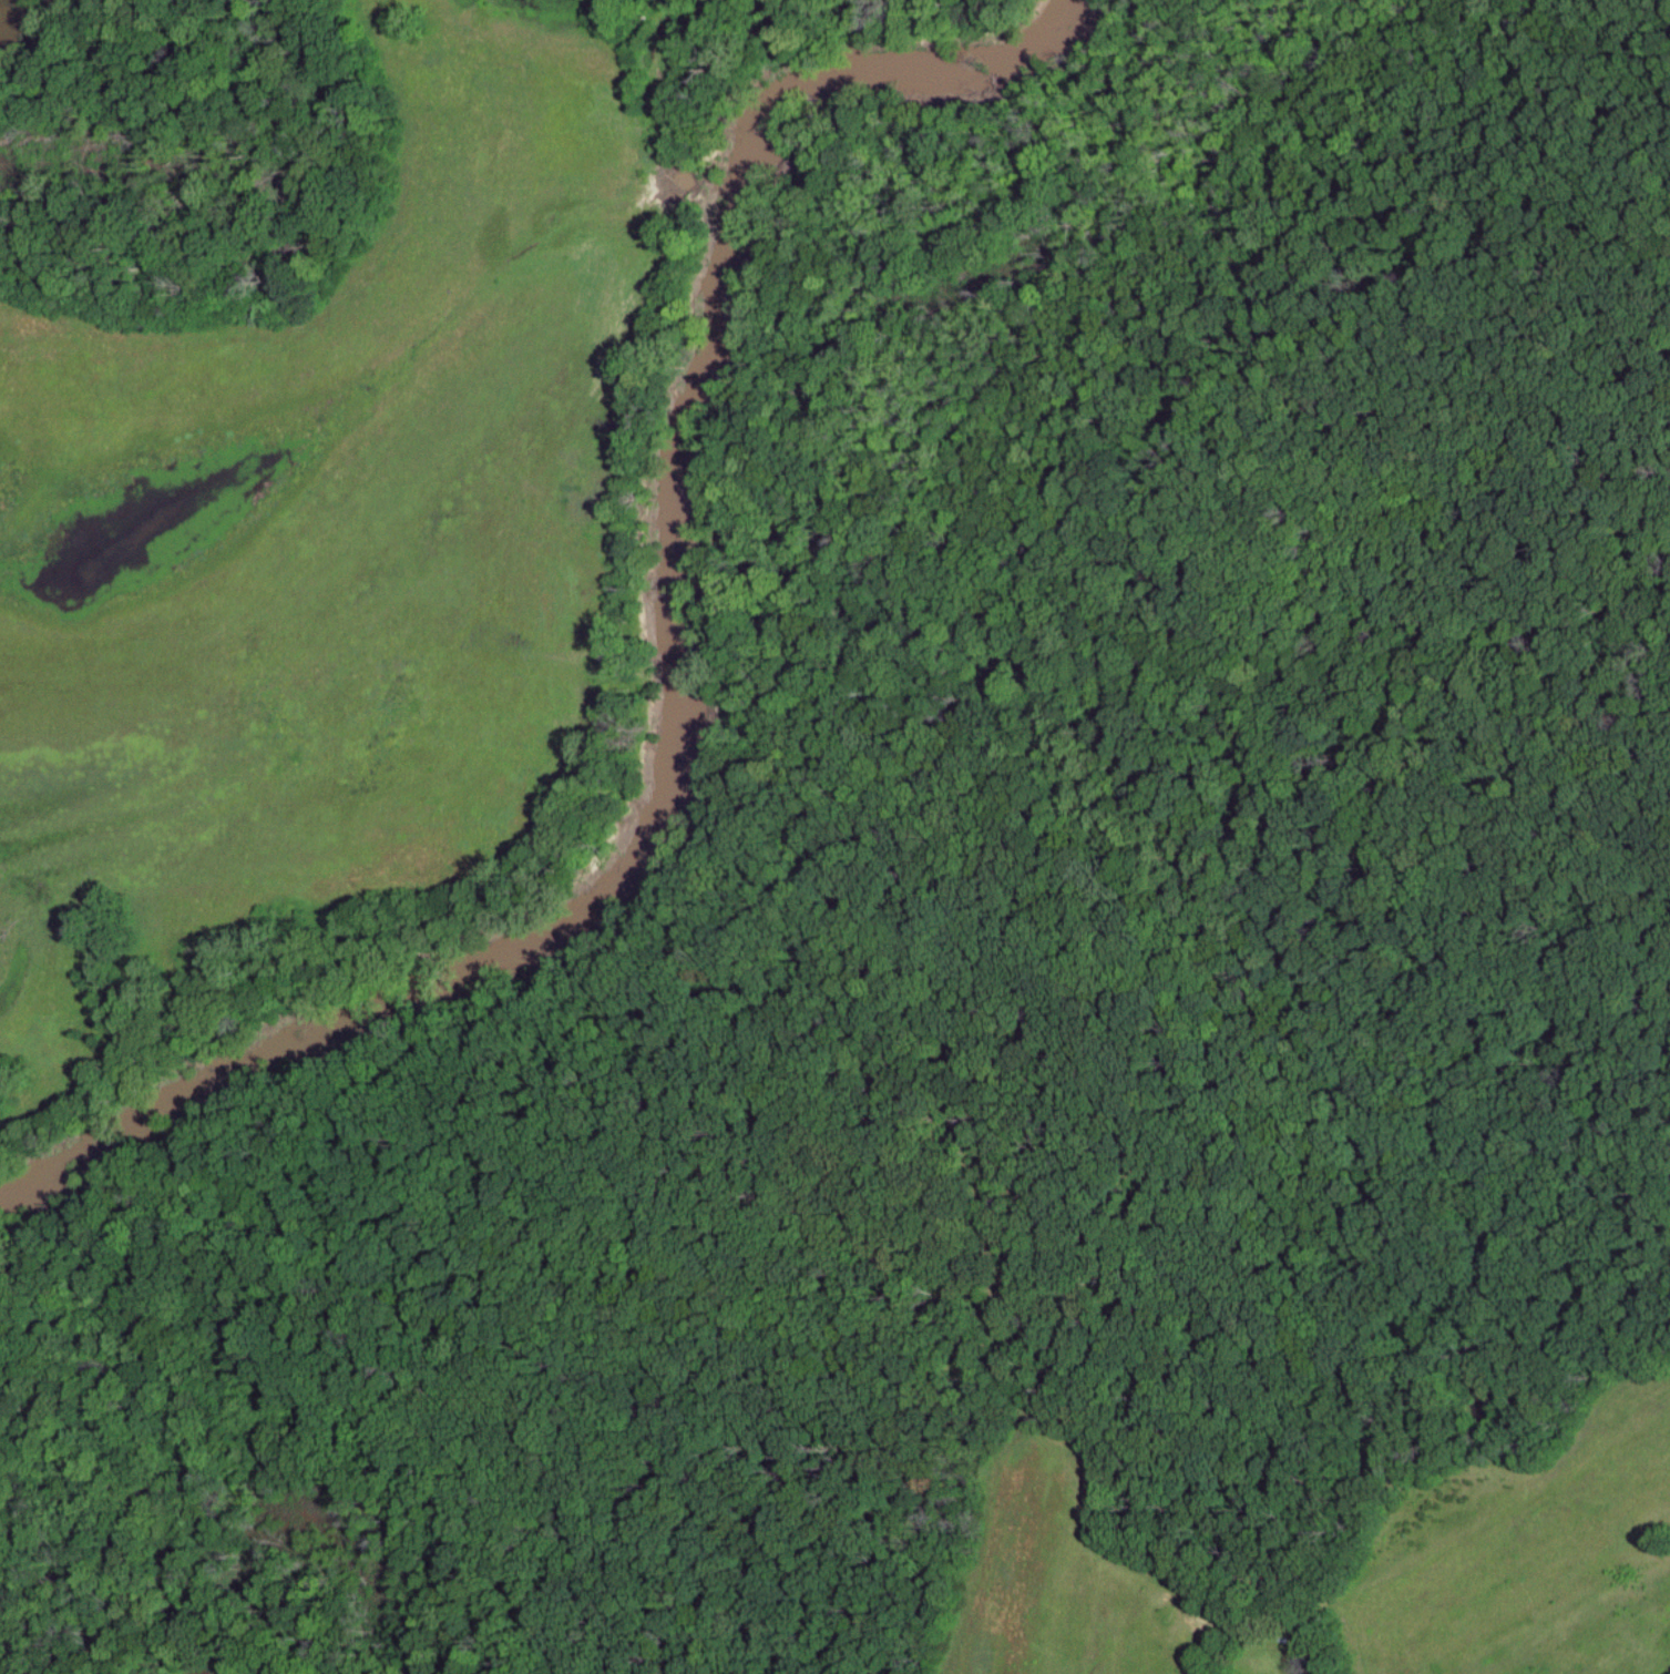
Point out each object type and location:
road: (1410, 1542)

